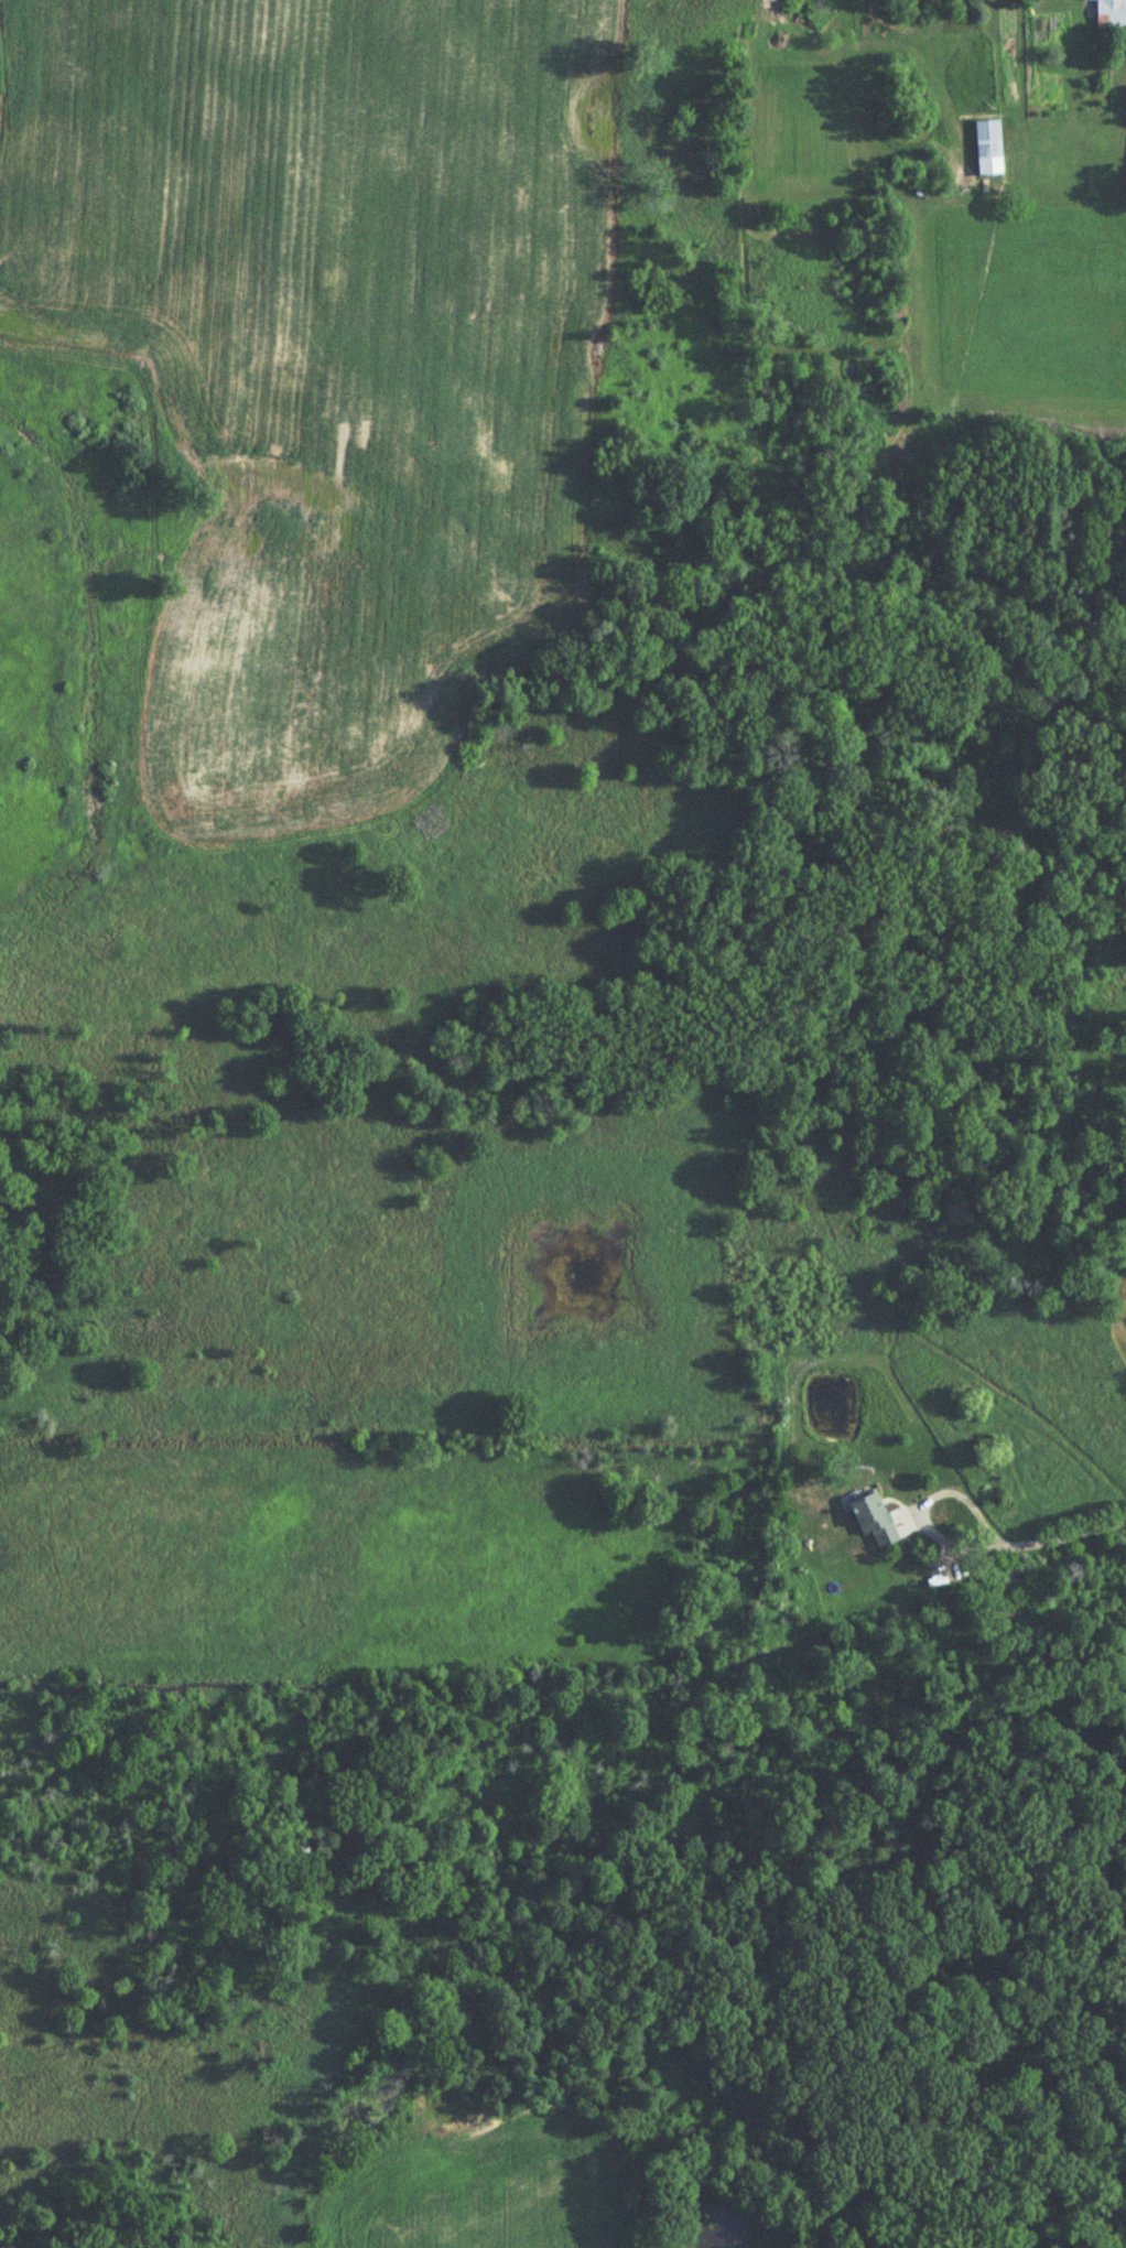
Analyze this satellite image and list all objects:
building: (1111, 12)
building: (987, 133)
road: (924, 1501)
building: (874, 1522)
road: (1067, 1531)

